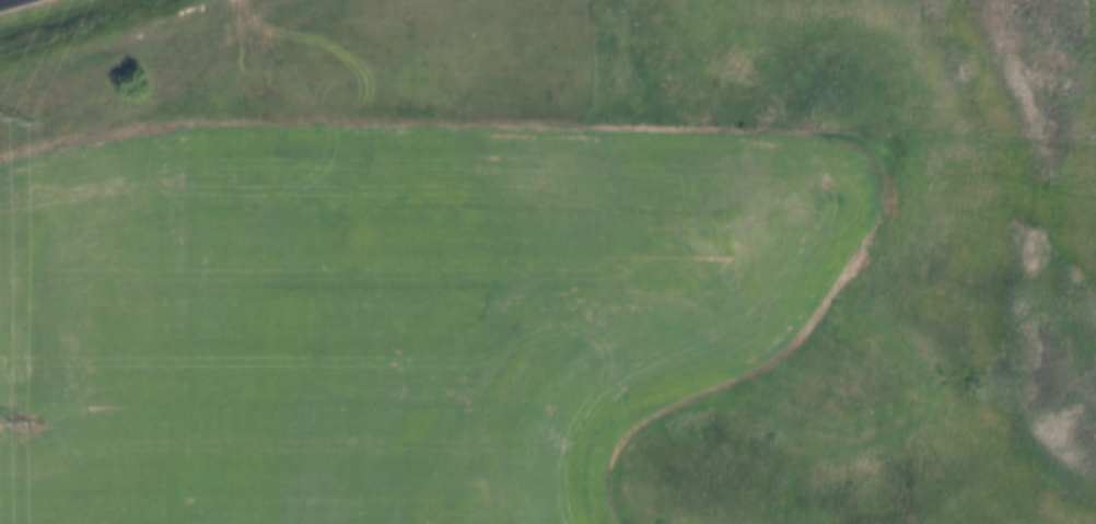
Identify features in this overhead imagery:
power tower: (11, 117)
power tower: (21, 426)

